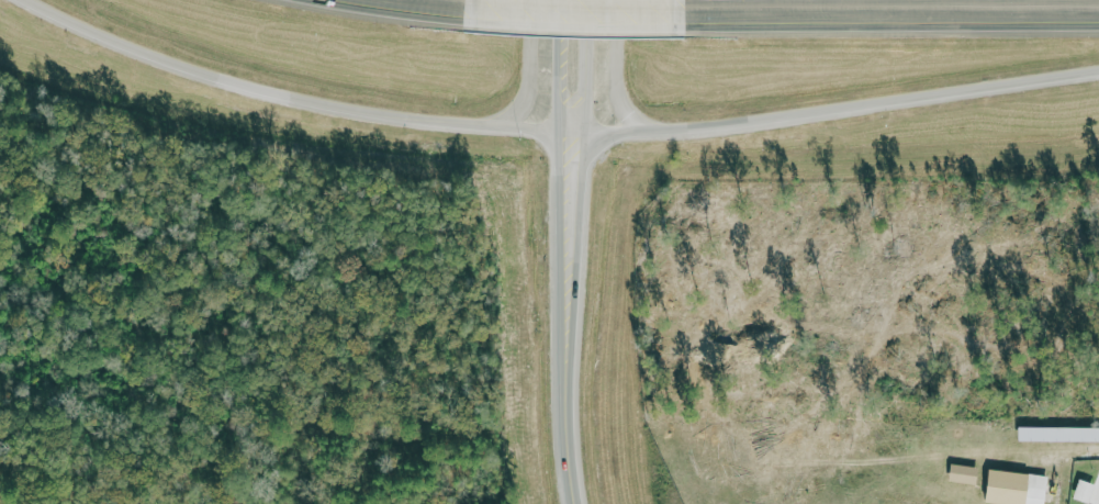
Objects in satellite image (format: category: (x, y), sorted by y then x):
road: (450, 2)
road: (570, 8)
road: (886, 10)
road: (536, 69)
road: (563, 70)
road: (594, 71)
road: (620, 71)
road: (292, 98)
road: (837, 112)
road: (563, 322)
building: (1059, 434)
building: (965, 473)
building: (1017, 488)
building: (1086, 491)

